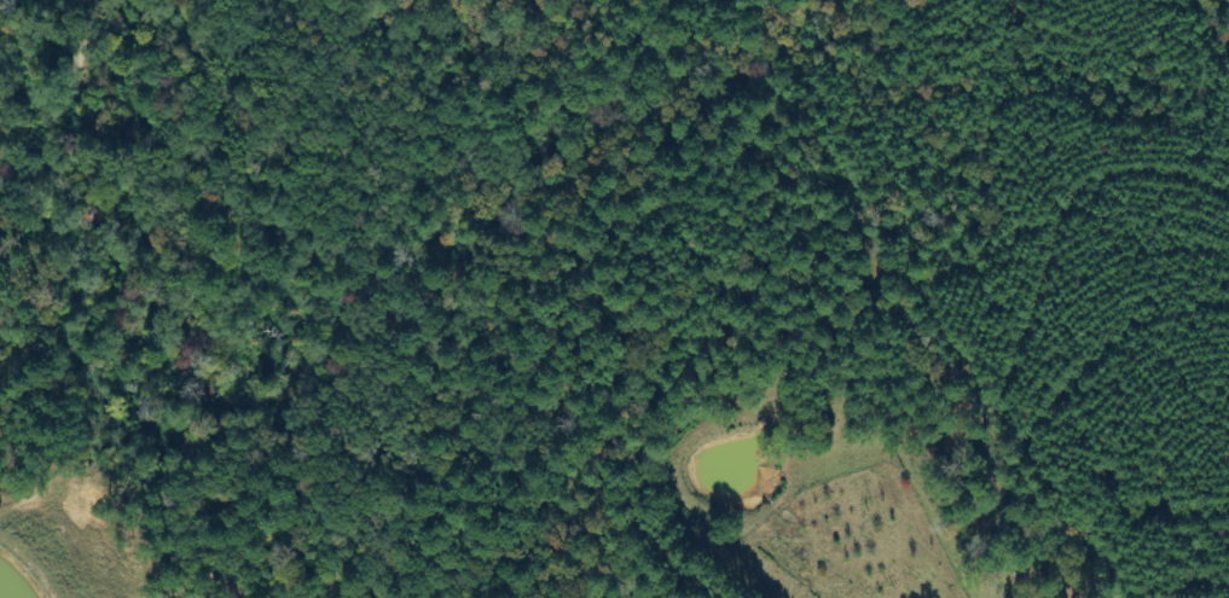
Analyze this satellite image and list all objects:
road: (1016, 497)
road: (1208, 567)

